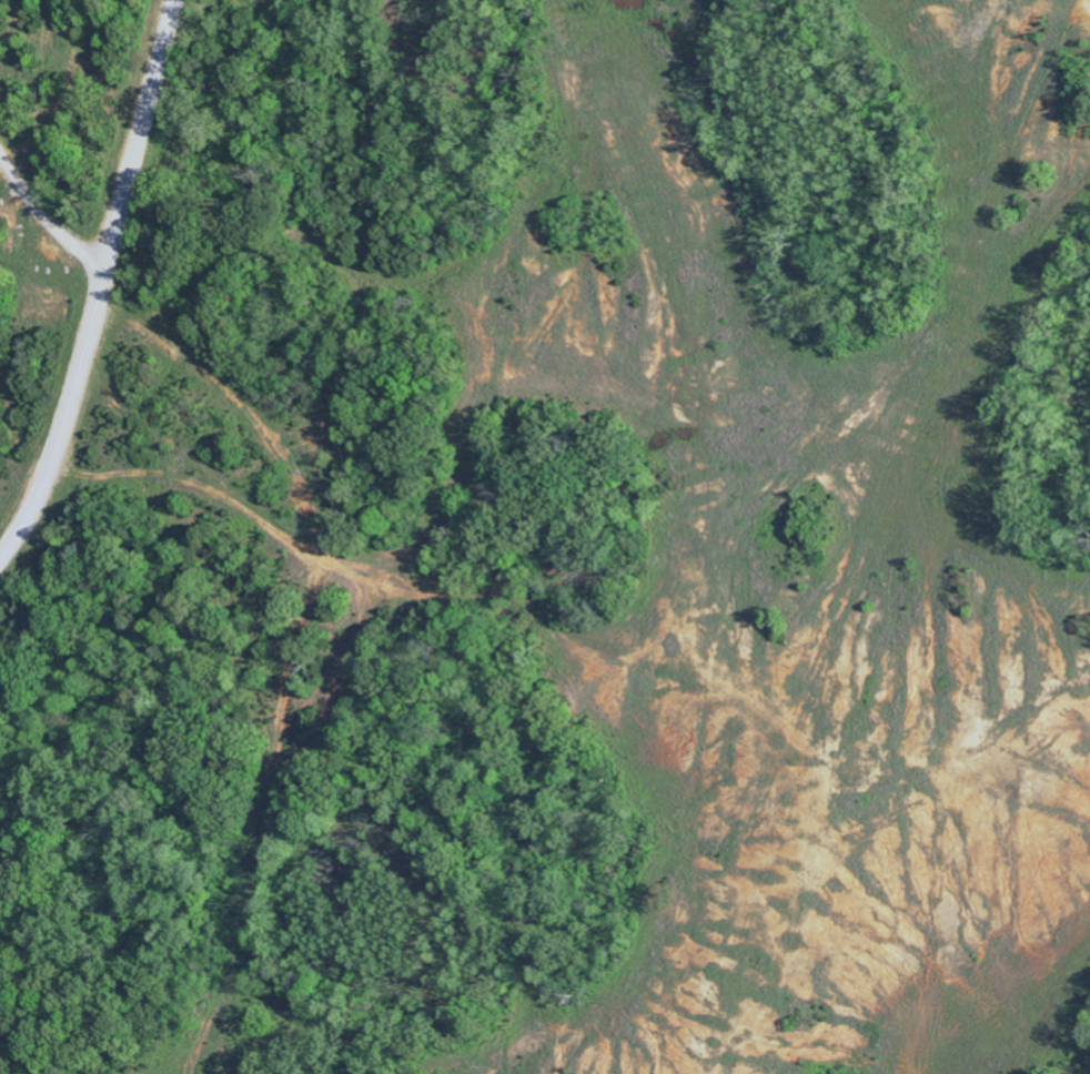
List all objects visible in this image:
road: (102, 284)

